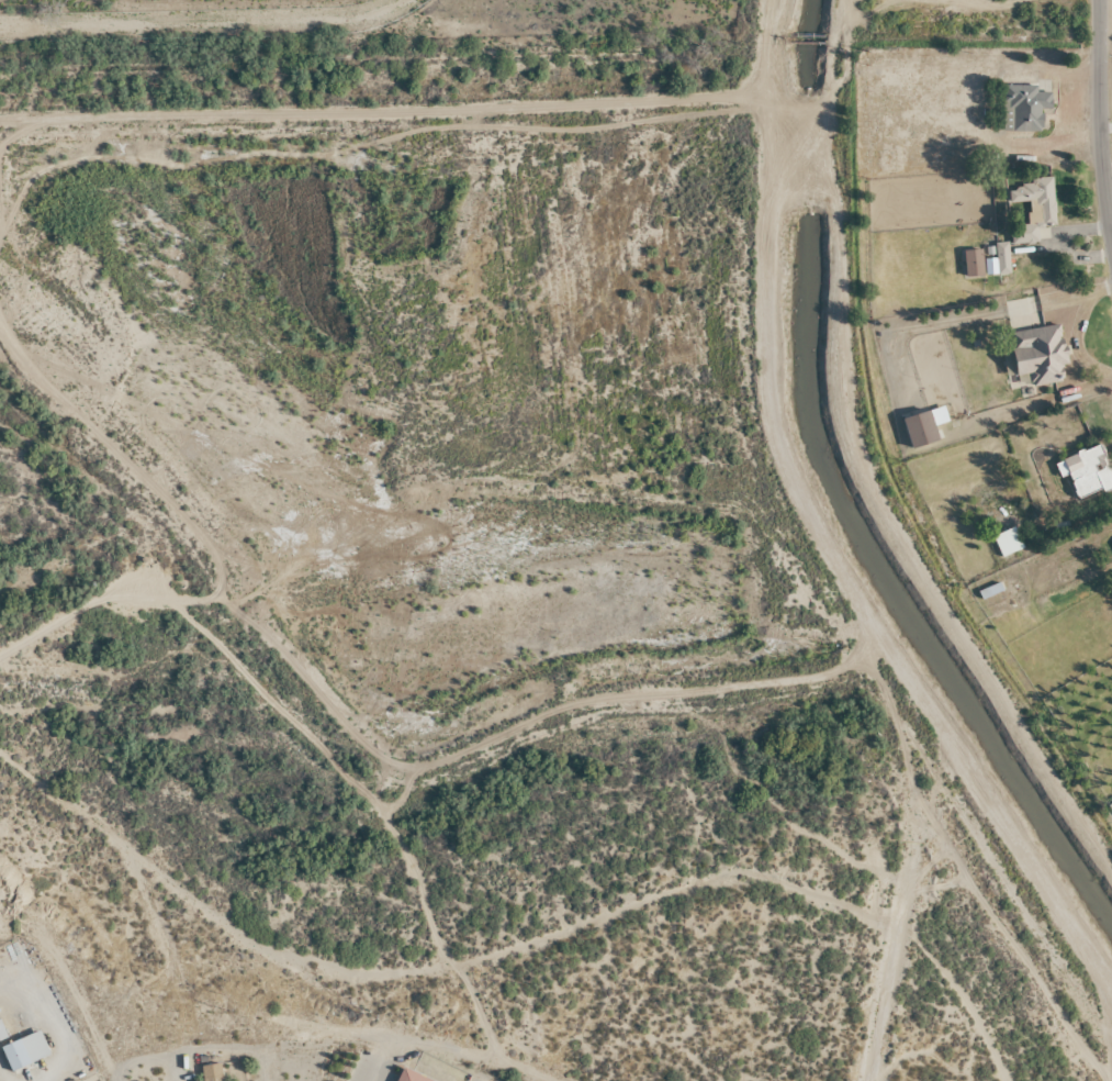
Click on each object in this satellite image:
road: (202, 22)
building: (1024, 105)
road: (1098, 126)
building: (1032, 208)
building: (997, 260)
building: (1034, 355)
building: (918, 428)
building: (1086, 471)
building: (1006, 542)
building: (988, 590)
building: (407, 1077)

